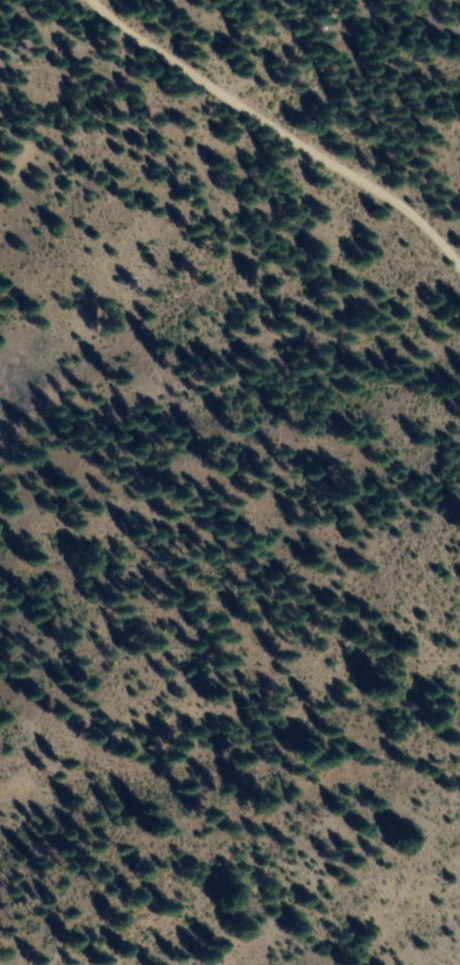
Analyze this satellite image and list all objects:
road: (338, 202)

